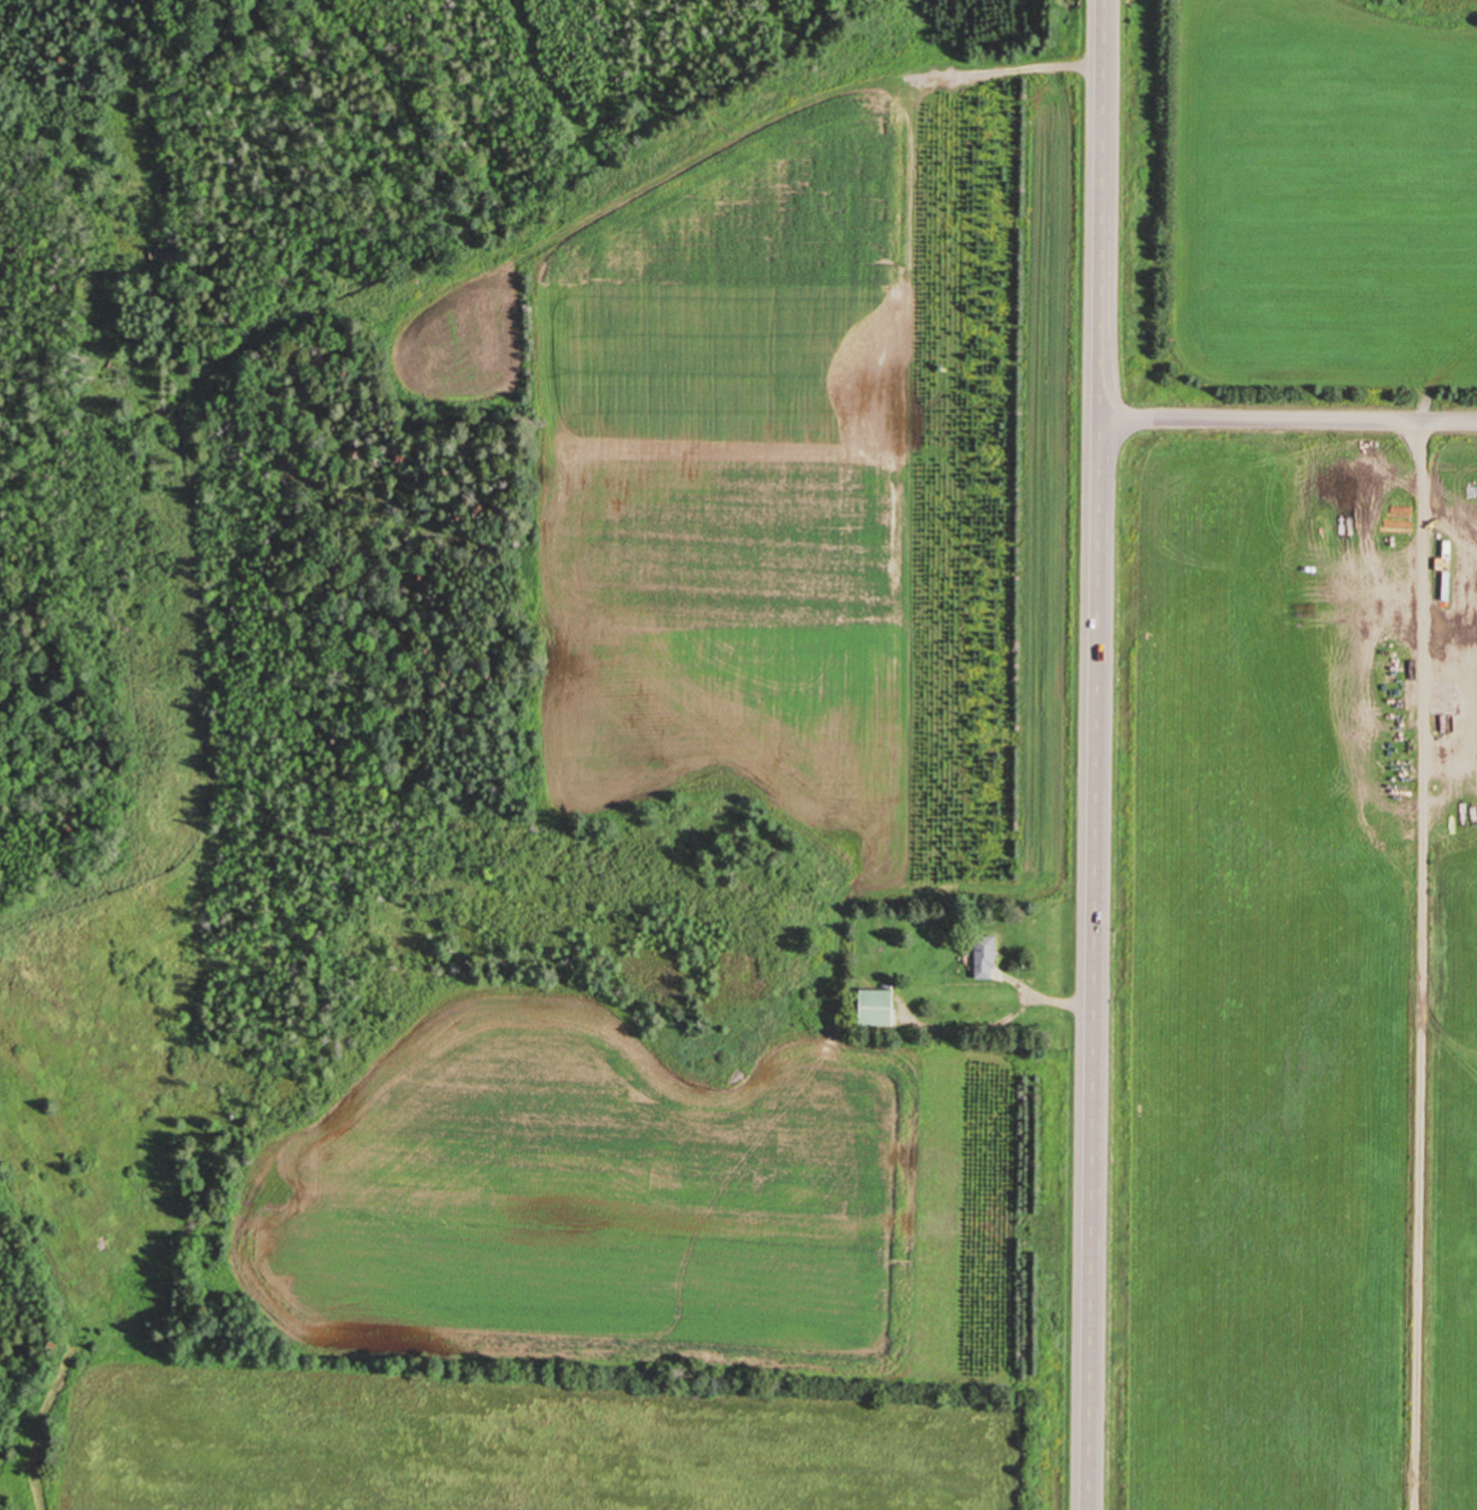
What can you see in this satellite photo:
road: (1288, 418)
road: (1094, 754)
building: (987, 958)
road: (1419, 965)
road: (1061, 1002)
building: (879, 1009)

